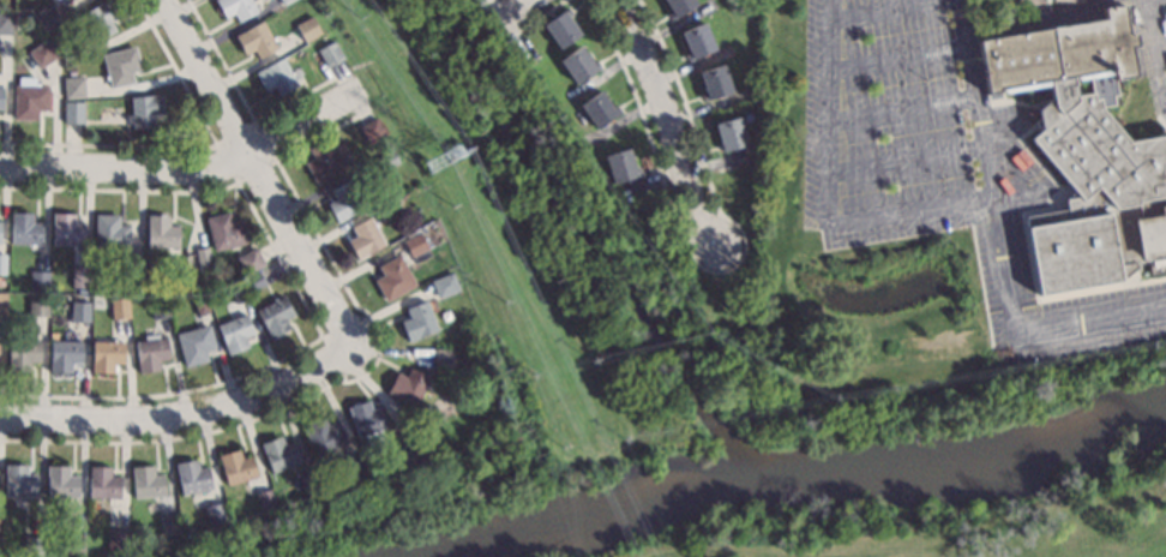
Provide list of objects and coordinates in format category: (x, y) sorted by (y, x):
building: (284, 1)
road: (524, 6)
building: (678, 6)
building: (235, 7)
building: (100, 19)
building: (48, 20)
building: (5, 23)
building: (561, 28)
building: (308, 29)
road: (1152, 37)
building: (256, 40)
building: (697, 41)
road: (1159, 43)
building: (71, 50)
building: (42, 54)
building: (330, 54)
building: (578, 65)
building: (120, 66)
building: (276, 77)
building: (714, 83)
building: (73, 86)
road: (1160, 90)
building: (1, 98)
building: (29, 98)
building: (599, 109)
road: (825, 109)
building: (144, 110)
building: (72, 113)
road: (669, 124)
building: (372, 131)
building: (729, 134)
building: (1084, 152)
building: (324, 161)
building: (387, 161)
building: (620, 167)
road: (260, 170)
road: (180, 175)
power tower: (449, 179)
building: (344, 202)
building: (387, 206)
road: (913, 215)
building: (24, 229)
building: (66, 229)
building: (224, 230)
building: (161, 232)
building: (109, 233)
building: (0, 234)
building: (365, 238)
road: (999, 241)
building: (415, 245)
building: (203, 257)
building: (248, 260)
building: (2, 264)
building: (131, 269)
building: (79, 276)
building: (393, 278)
building: (1, 281)
building: (38, 281)
building: (253, 281)
building: (194, 282)
building: (444, 285)
building: (238, 293)
building: (199, 304)
building: (2, 305)
building: (37, 306)
building: (158, 307)
building: (119, 309)
building: (79, 311)
building: (275, 316)
building: (417, 322)
building: (234, 333)
building: (193, 345)
building: (150, 352)
building: (22, 354)
building: (64, 354)
building: (106, 357)
building: (444, 357)
building: (463, 359)
building: (408, 385)
road: (182, 415)
park: (882, 418)
building: (367, 423)
building: (323, 436)
building: (415, 449)
building: (278, 454)
river: (783, 462)
building: (359, 465)
building: (235, 468)
building: (191, 477)
building: (19, 481)
building: (61, 481)
building: (146, 483)
building: (309, 483)
building: (102, 484)
building: (265, 499)
park: (380, 505)
building: (215, 514)
park: (946, 517)
building: (167, 525)
building: (116, 540)
building: (73, 545)
building: (32, 547)
park: (567, 555)

